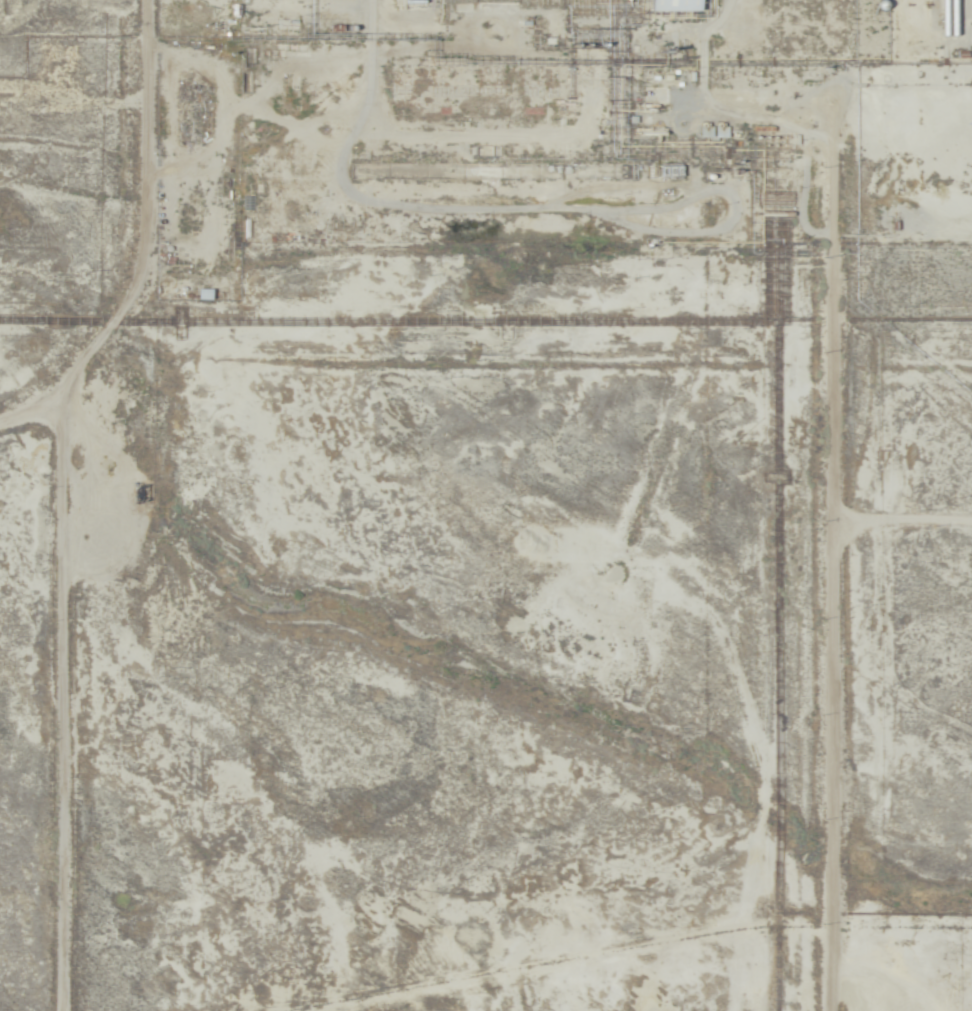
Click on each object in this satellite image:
building: (665, 5)
road: (136, 268)
road: (830, 596)
road: (58, 719)

